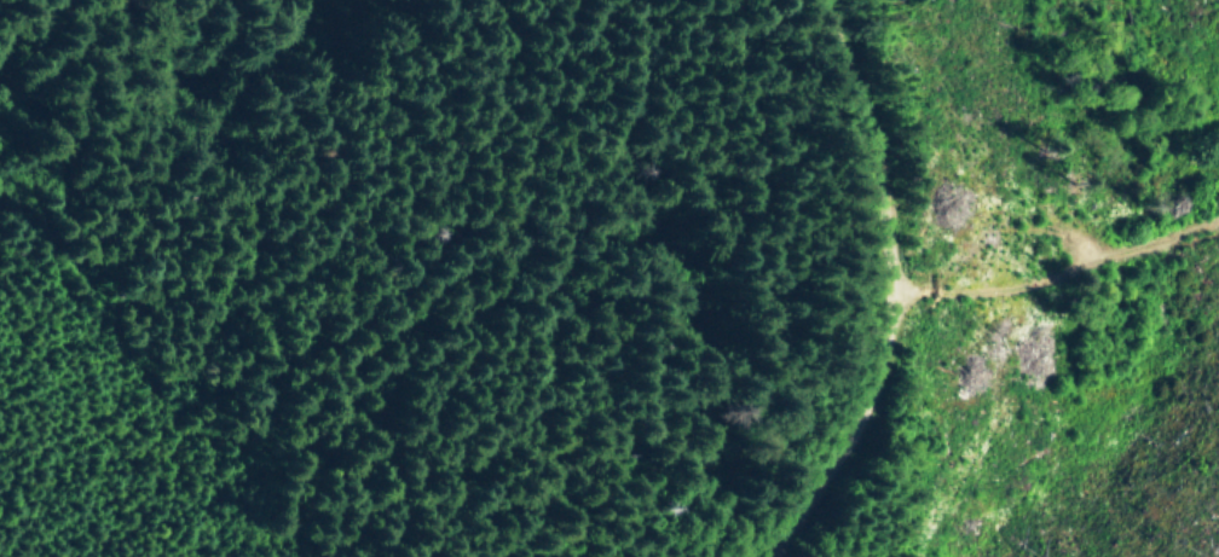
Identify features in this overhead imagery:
road: (1051, 267)
road: (882, 289)

